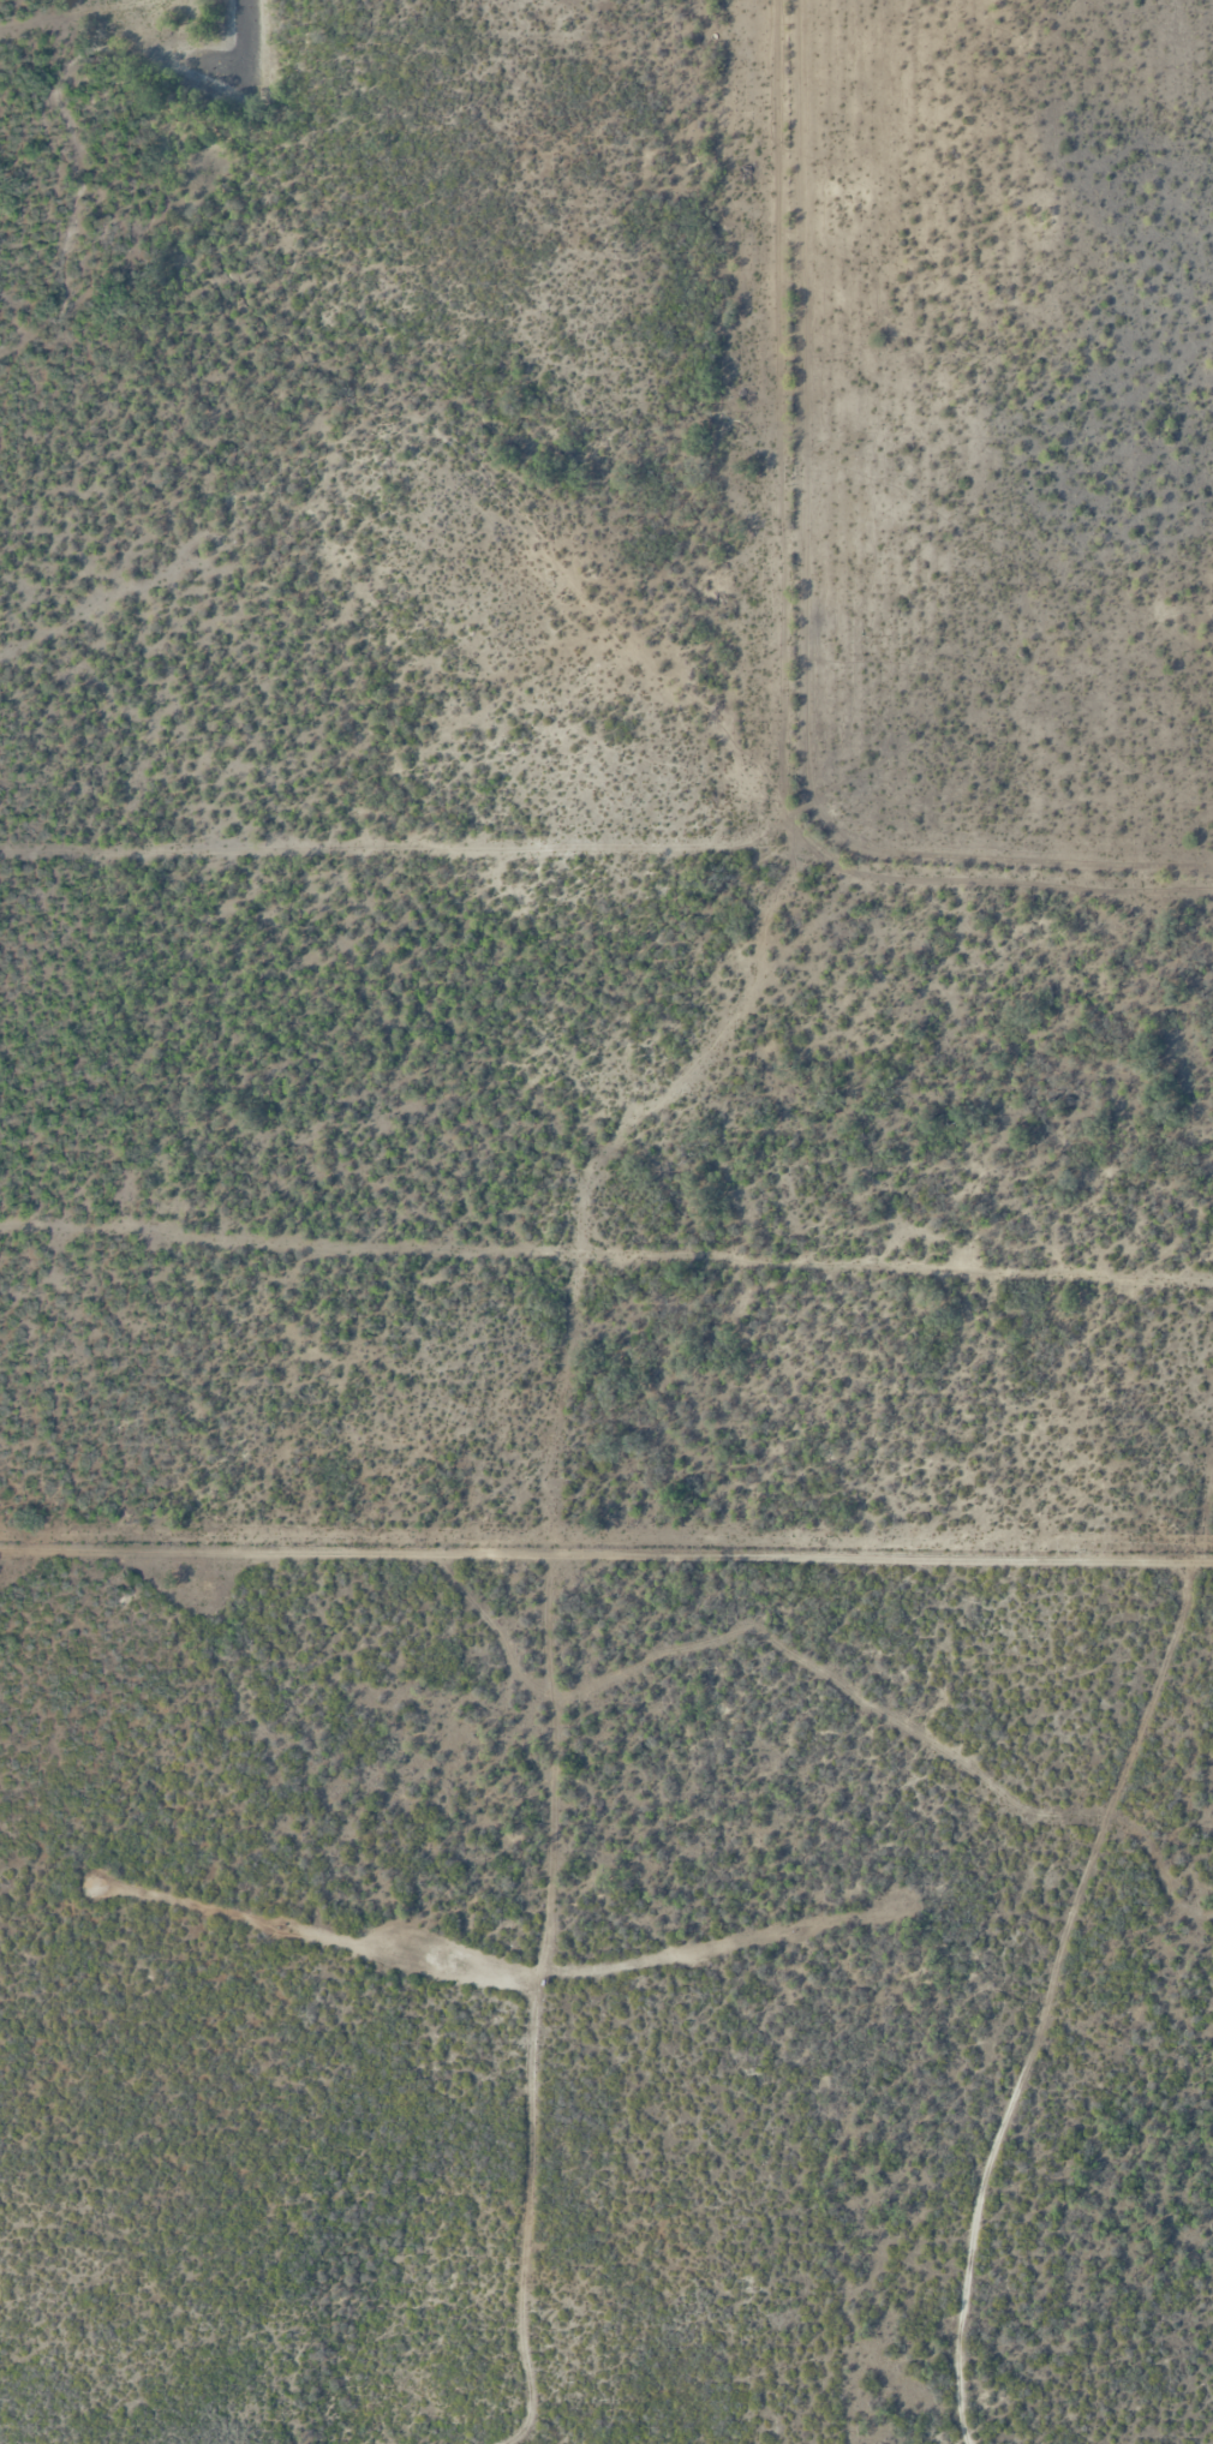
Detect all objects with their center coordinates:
road: (606, 1308)

